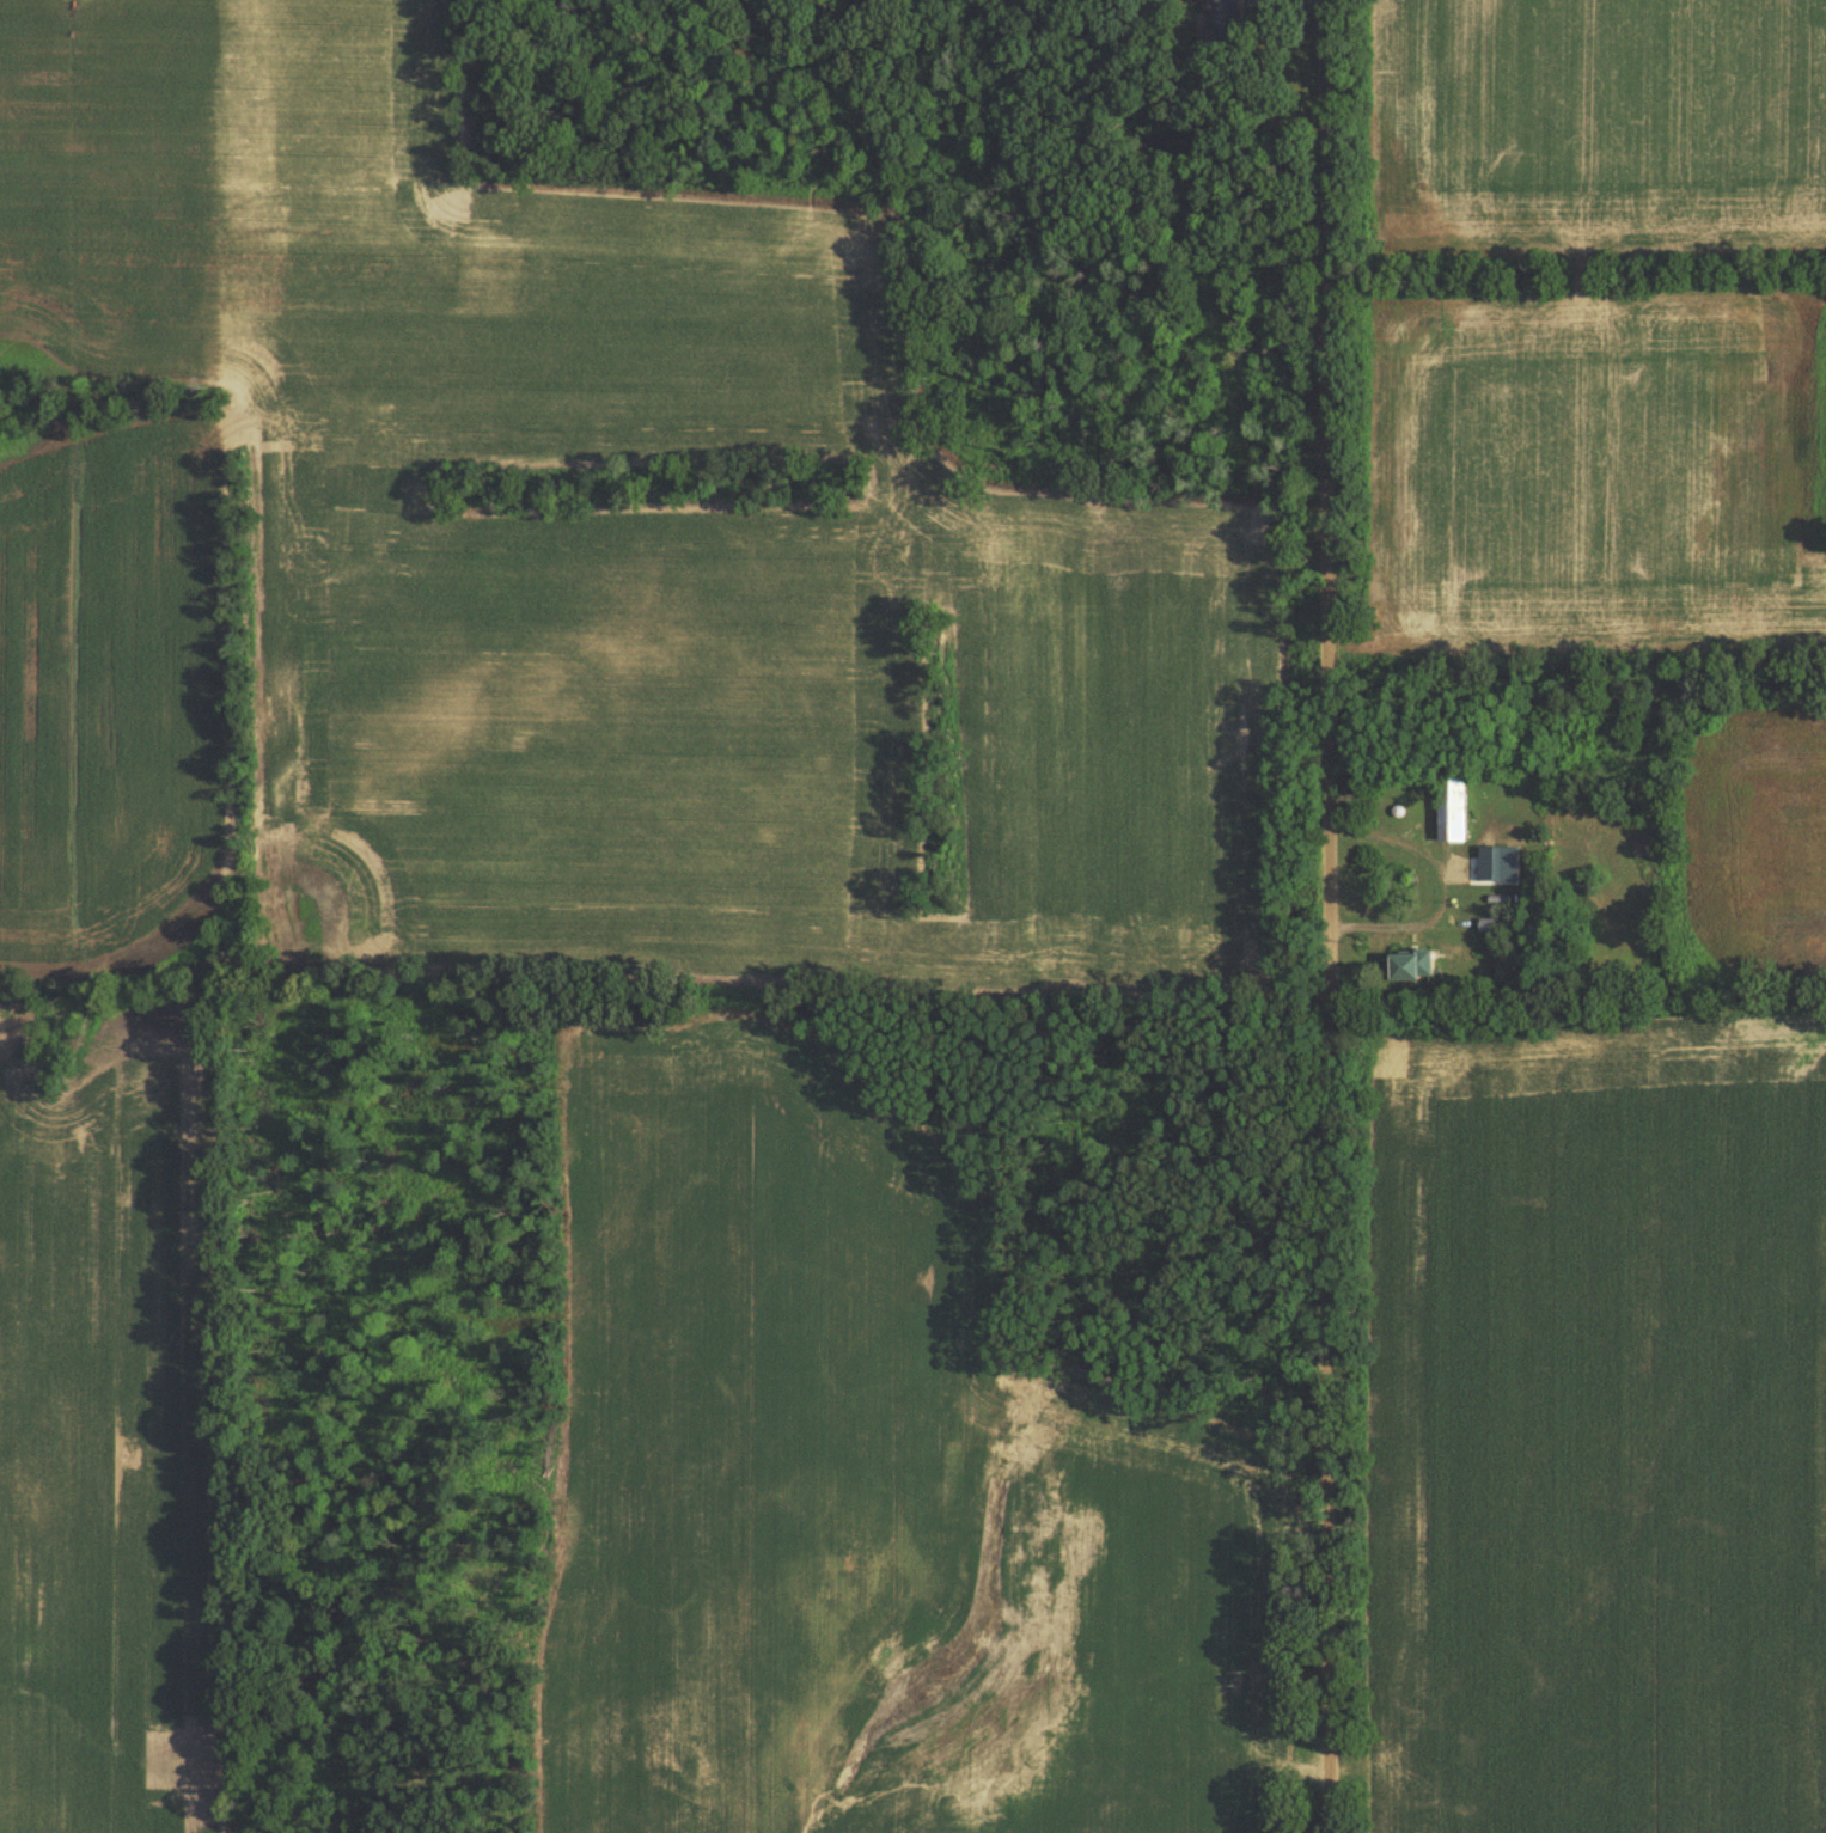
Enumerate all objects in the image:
building: (1454, 812)
building: (1498, 861)
road: (1338, 916)

